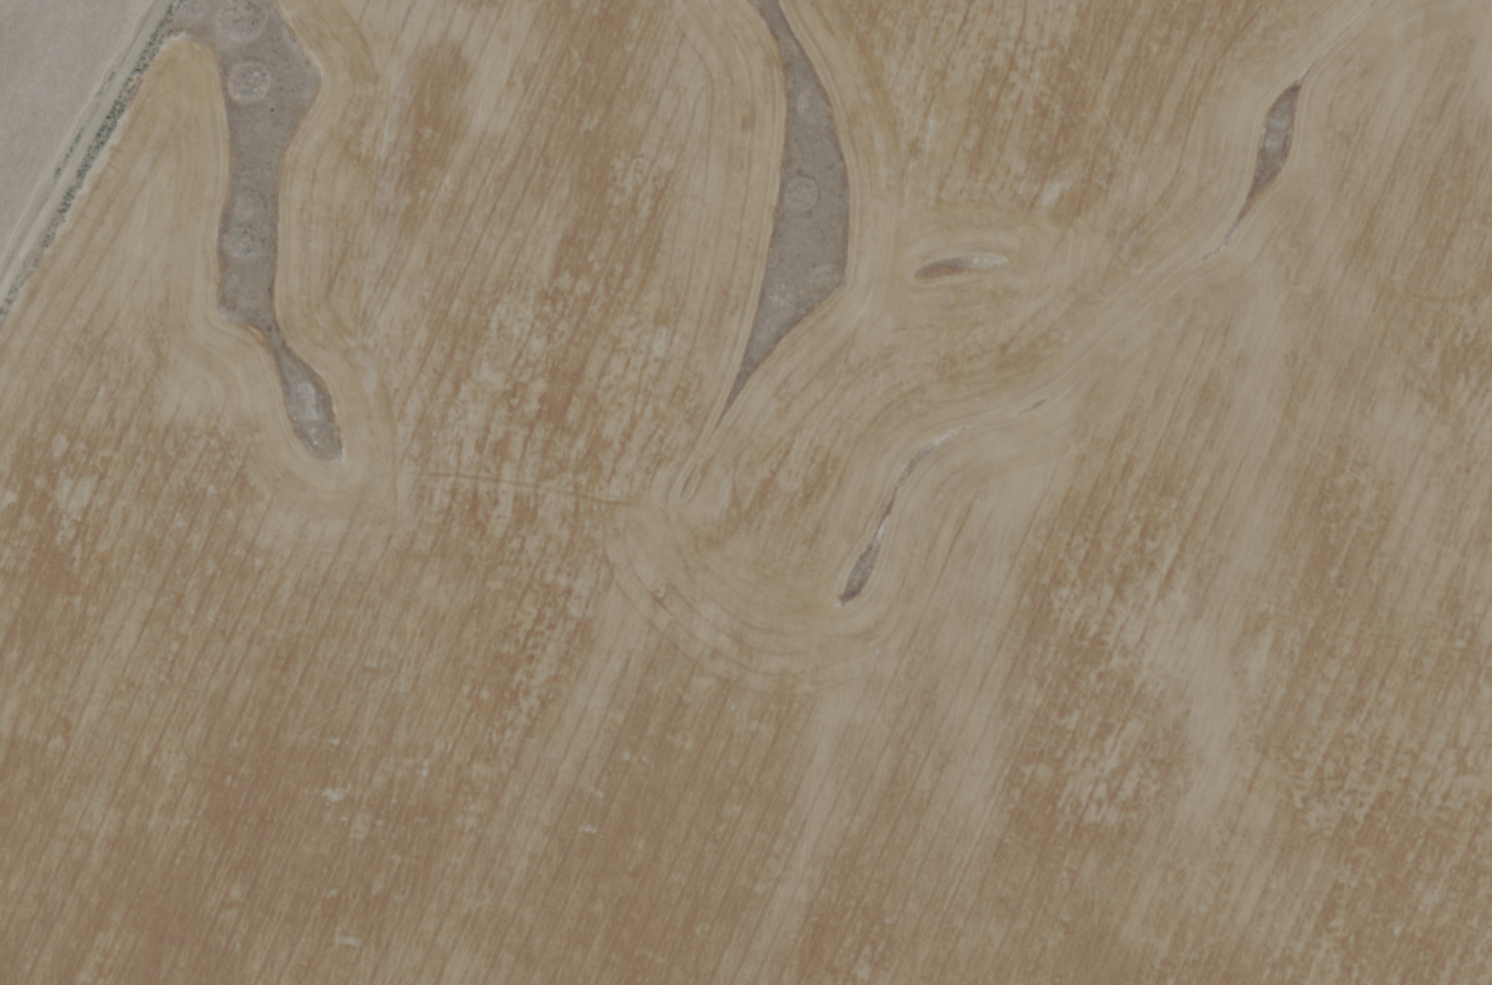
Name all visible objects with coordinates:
road: (79, 148)

